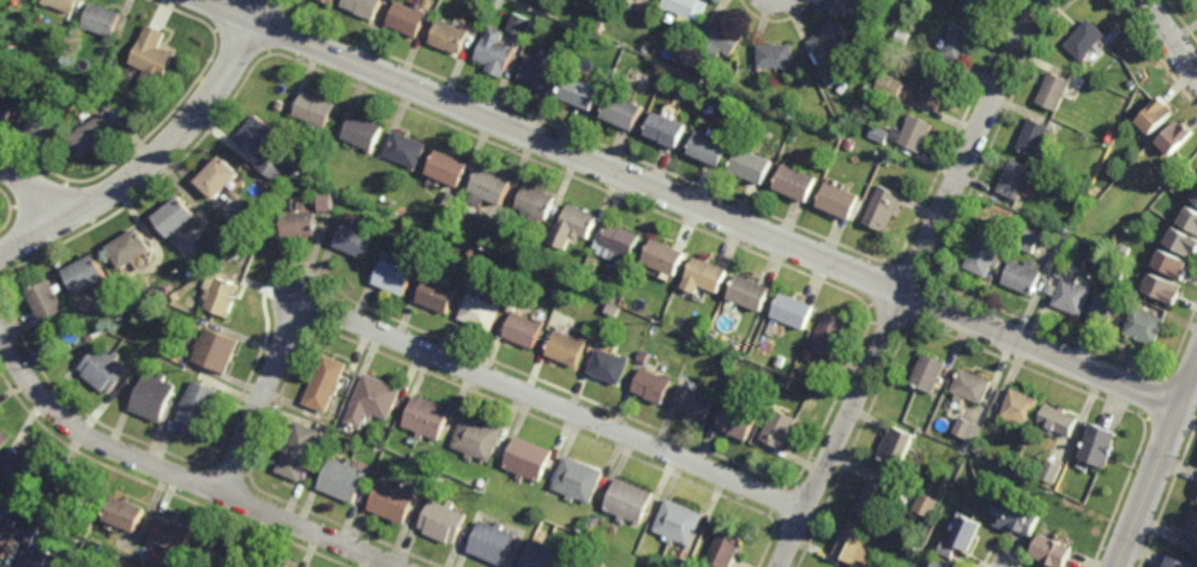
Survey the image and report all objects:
building: (648, 0)
building: (337, 1)
building: (65, 4)
building: (498, 4)
building: (847, 4)
building: (982, 5)
building: (684, 6)
building: (369, 7)
building: (409, 19)
building: (583, 19)
building: (104, 20)
building: (522, 25)
building: (600, 26)
building: (576, 30)
building: (724, 35)
road: (1171, 35)
building: (450, 36)
building: (904, 36)
building: (830, 37)
building: (1088, 40)
building: (631, 41)
building: (960, 43)
building: (16, 46)
building: (646, 46)
building: (495, 52)
building: (892, 54)
building: (31, 55)
building: (777, 55)
building: (157, 58)
building: (540, 70)
building: (67, 73)
building: (831, 76)
building: (727, 84)
building: (890, 84)
building: (1132, 84)
building: (24, 86)
building: (937, 90)
building: (582, 92)
building: (1057, 92)
building: (88, 97)
building: (6, 110)
building: (320, 110)
building: (624, 111)
building: (1156, 115)
building: (40, 127)
building: (866, 128)
building: (668, 129)
building: (913, 132)
building: (362, 133)
building: (880, 133)
building: (95, 134)
building: (261, 135)
building: (1035, 137)
building: (1174, 137)
building: (850, 143)
building: (710, 149)
building: (407, 151)
building: (307, 156)
road: (161, 157)
building: (752, 165)
building: (275, 169)
building: (449, 169)
building: (223, 179)
building: (1016, 179)
building: (796, 182)
road: (44, 186)
building: (489, 188)
building: (1195, 197)
building: (326, 201)
building: (840, 201)
building: (536, 204)
road: (694, 204)
building: (883, 207)
building: (178, 218)
building: (1190, 218)
building: (301, 223)
building: (573, 227)
building: (243, 229)
building: (429, 230)
building: (231, 235)
building: (1028, 239)
building: (1114, 239)
building: (621, 240)
building: (354, 241)
building: (1181, 242)
building: (1125, 248)
building: (132, 251)
building: (548, 253)
building: (982, 257)
building: (666, 258)
building: (530, 260)
building: (1171, 264)
building: (543, 267)
building: (1059, 271)
building: (196, 275)
building: (1118, 275)
building: (89, 276)
building: (1022, 276)
building: (487, 277)
building: (706, 277)
building: (395, 278)
road: (912, 281)
building: (1165, 286)
building: (553, 288)
building: (646, 289)
building: (1051, 289)
building: (223, 292)
building: (601, 292)
building: (750, 292)
building: (178, 295)
building: (1072, 295)
building: (438, 296)
building: (49, 302)
building: (142, 306)
building: (1103, 307)
building: (795, 309)
building: (480, 312)
building: (1145, 325)
building: (523, 330)
building: (92, 333)
building: (589, 333)
building: (830, 333)
building: (219, 346)
building: (567, 348)
building: (644, 356)
building: (782, 361)
building: (610, 364)
building: (108, 366)
road: (467, 368)
building: (930, 373)
building: (329, 380)
building: (786, 382)
building: (652, 385)
building: (973, 385)
building: (156, 394)
building: (377, 398)
building: (696, 402)
building: (199, 405)
building: (1021, 406)
building: (431, 416)
building: (928, 416)
building: (1059, 418)
building: (739, 421)
building: (964, 427)
building: (781, 428)
building: (5, 433)
building: (480, 436)
building: (1101, 442)
building: (897, 446)
building: (979, 446)
building: (301, 450)
building: (391, 453)
building: (529, 458)
building: (31, 462)
building: (453, 468)
road: (1157, 468)
building: (1051, 469)
road: (174, 472)
building: (347, 478)
building: (579, 478)
building: (79, 485)
building: (396, 499)
building: (874, 499)
building: (628, 500)
building: (928, 503)
building: (130, 512)
building: (94, 515)
building: (1017, 515)
building: (446, 519)
building: (680, 521)
building: (967, 530)
building: (178, 532)
building: (1189, 535)
building: (6, 538)
building: (497, 541)
building: (855, 543)
building: (44, 548)
building: (950, 548)
building: (727, 549)
building: (1054, 549)
building: (229, 554)
building: (547, 554)
building: (1179, 561)
building: (276, 563)
building: (940, 563)
building: (587, 565)
building: (602, 565)

